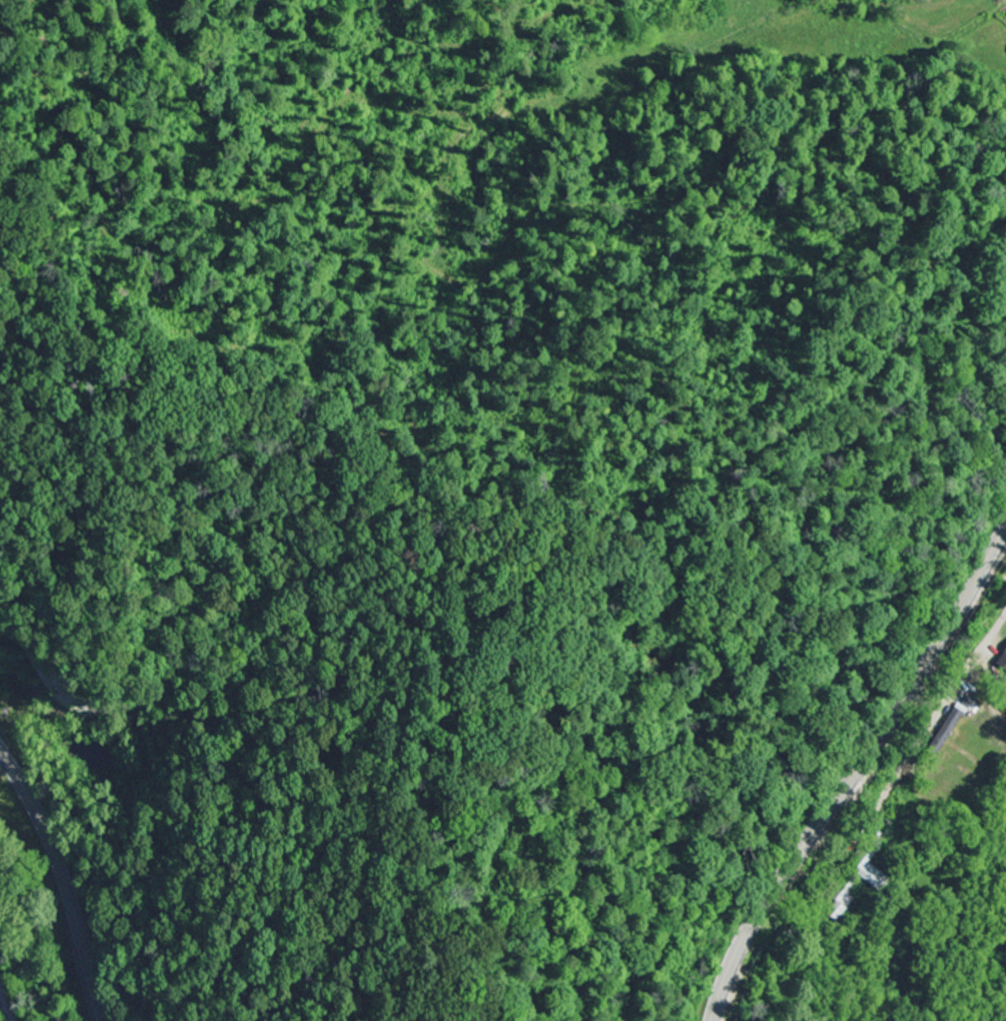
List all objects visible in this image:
road: (929, 728)
building: (945, 731)
road: (851, 785)
building: (871, 871)
road: (61, 884)

